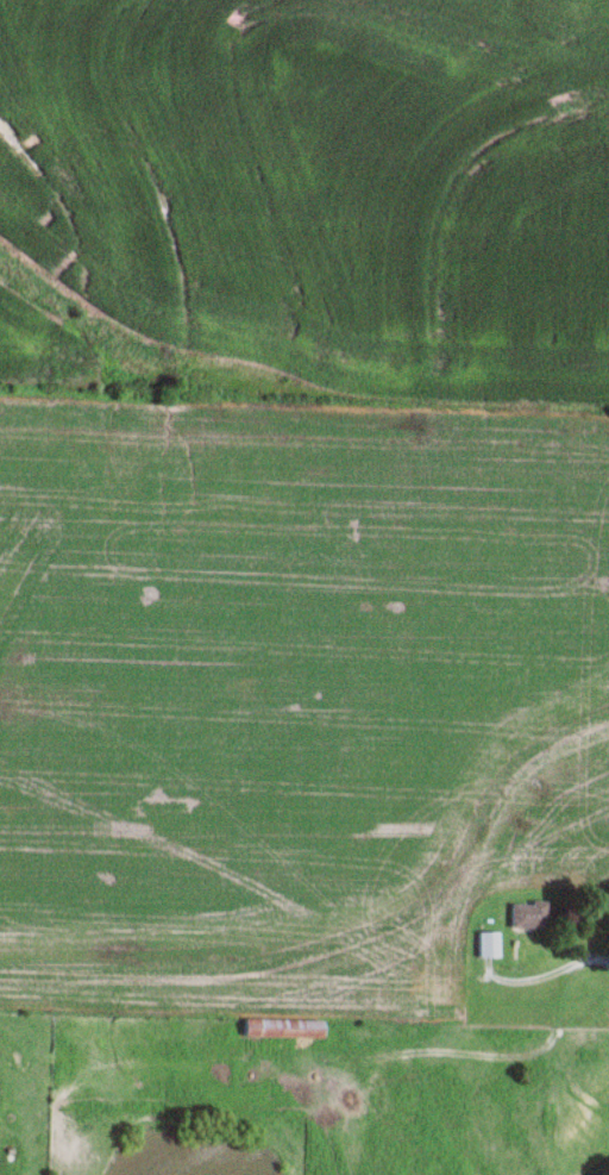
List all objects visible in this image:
crop: (290, 696)
building: (526, 915)
building: (485, 945)
building: (281, 1030)
road: (469, 1051)

